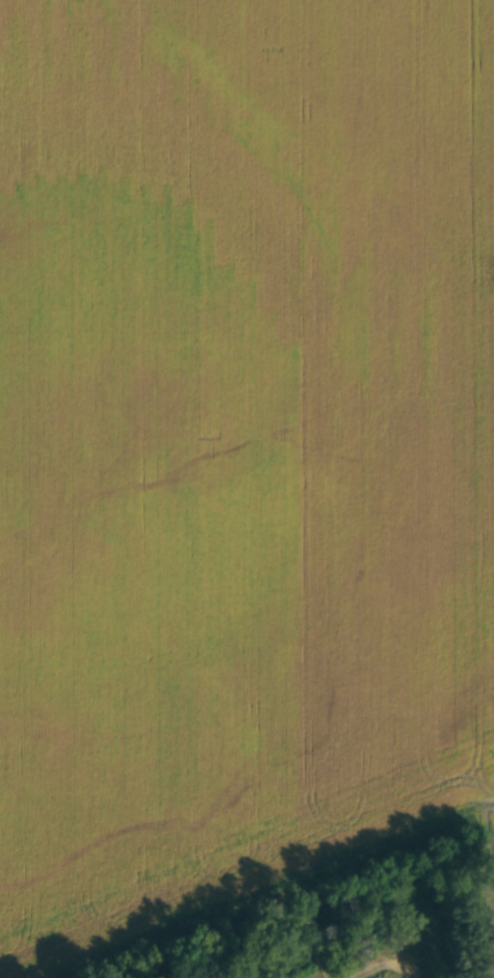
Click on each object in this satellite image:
building: (411, 960)

